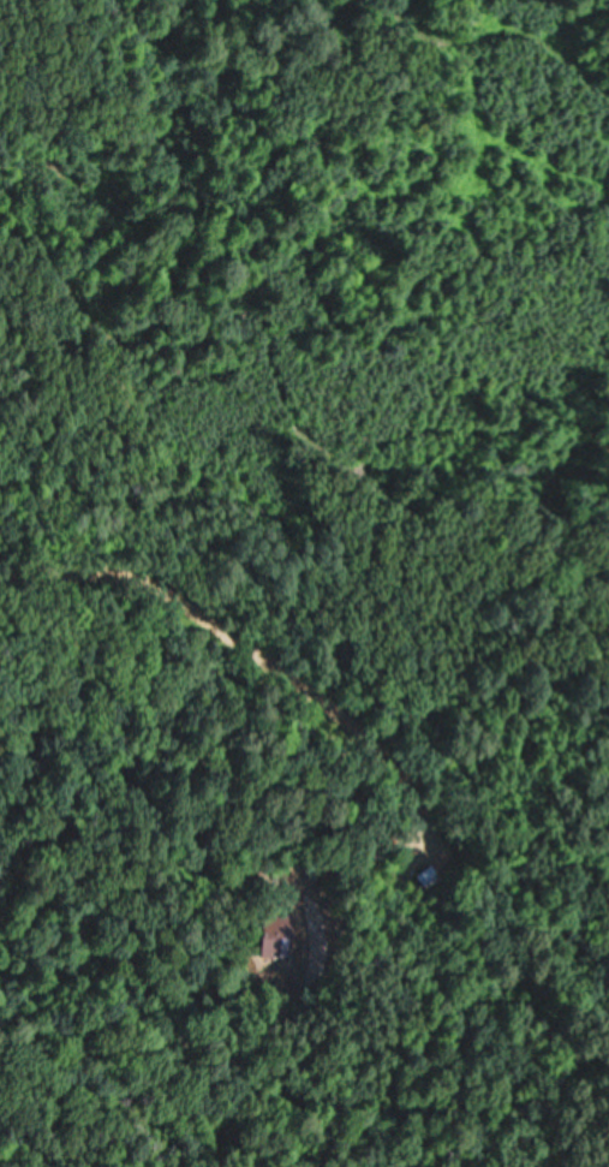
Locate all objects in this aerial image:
building: (438, 877)
building: (276, 933)

